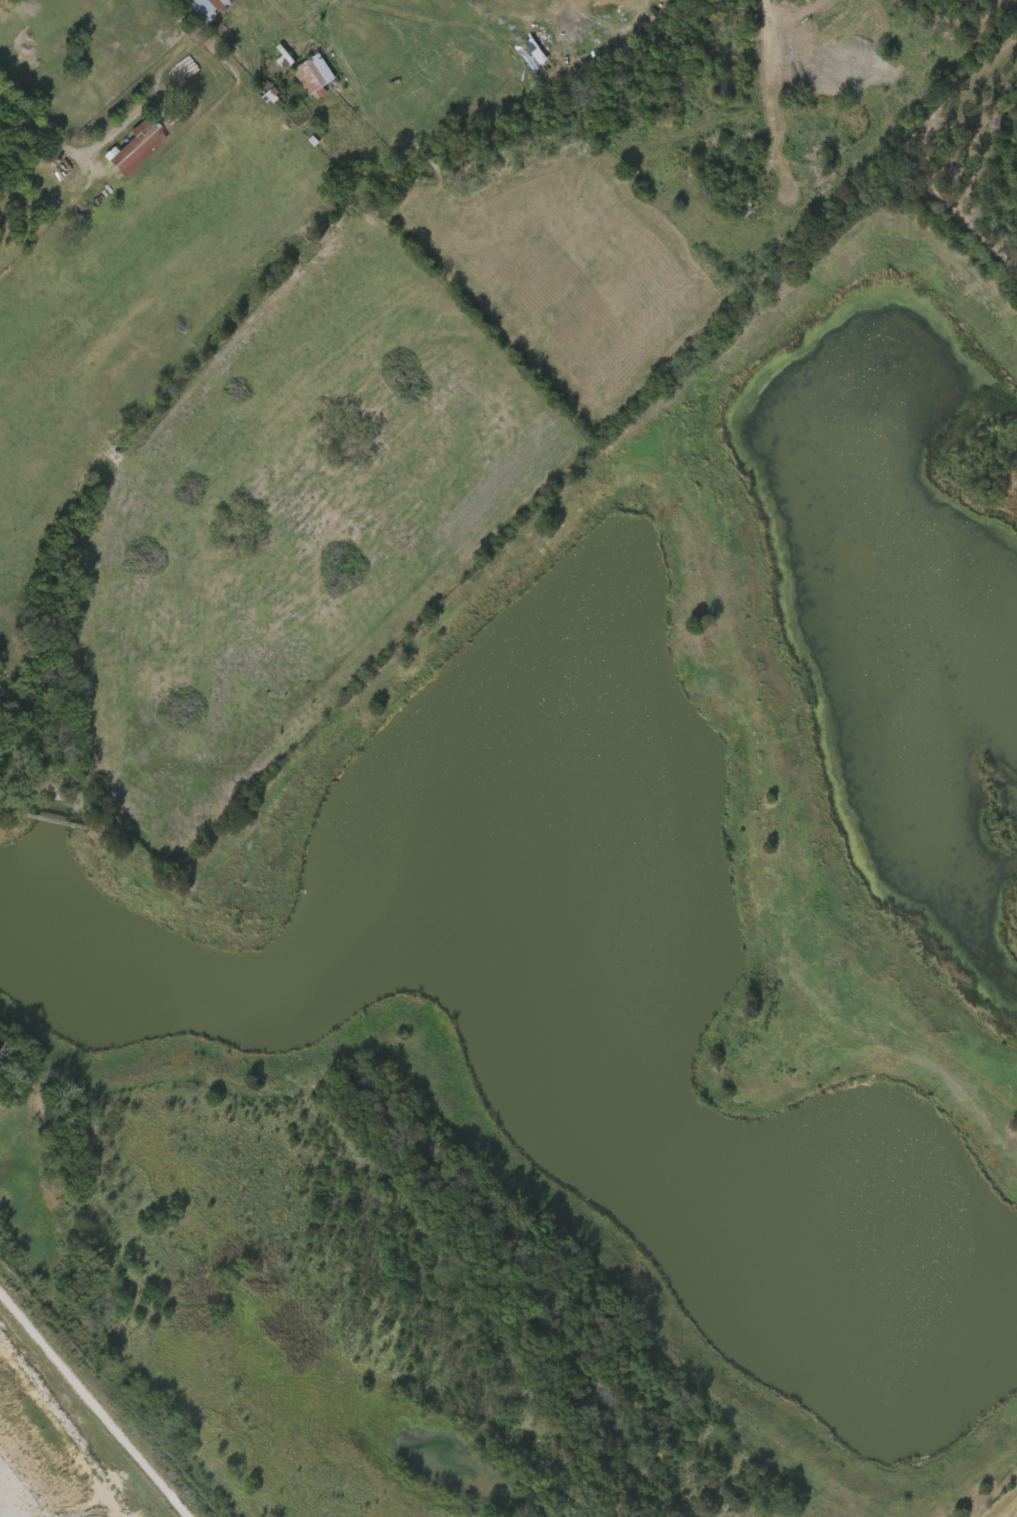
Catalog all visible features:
building: (195, 9)
building: (210, 10)
building: (186, 19)
building: (316, 73)
building: (302, 79)
building: (270, 90)
building: (136, 144)
road: (87, 145)
wastewater plant: (572, 1001)
road: (98, 1401)

